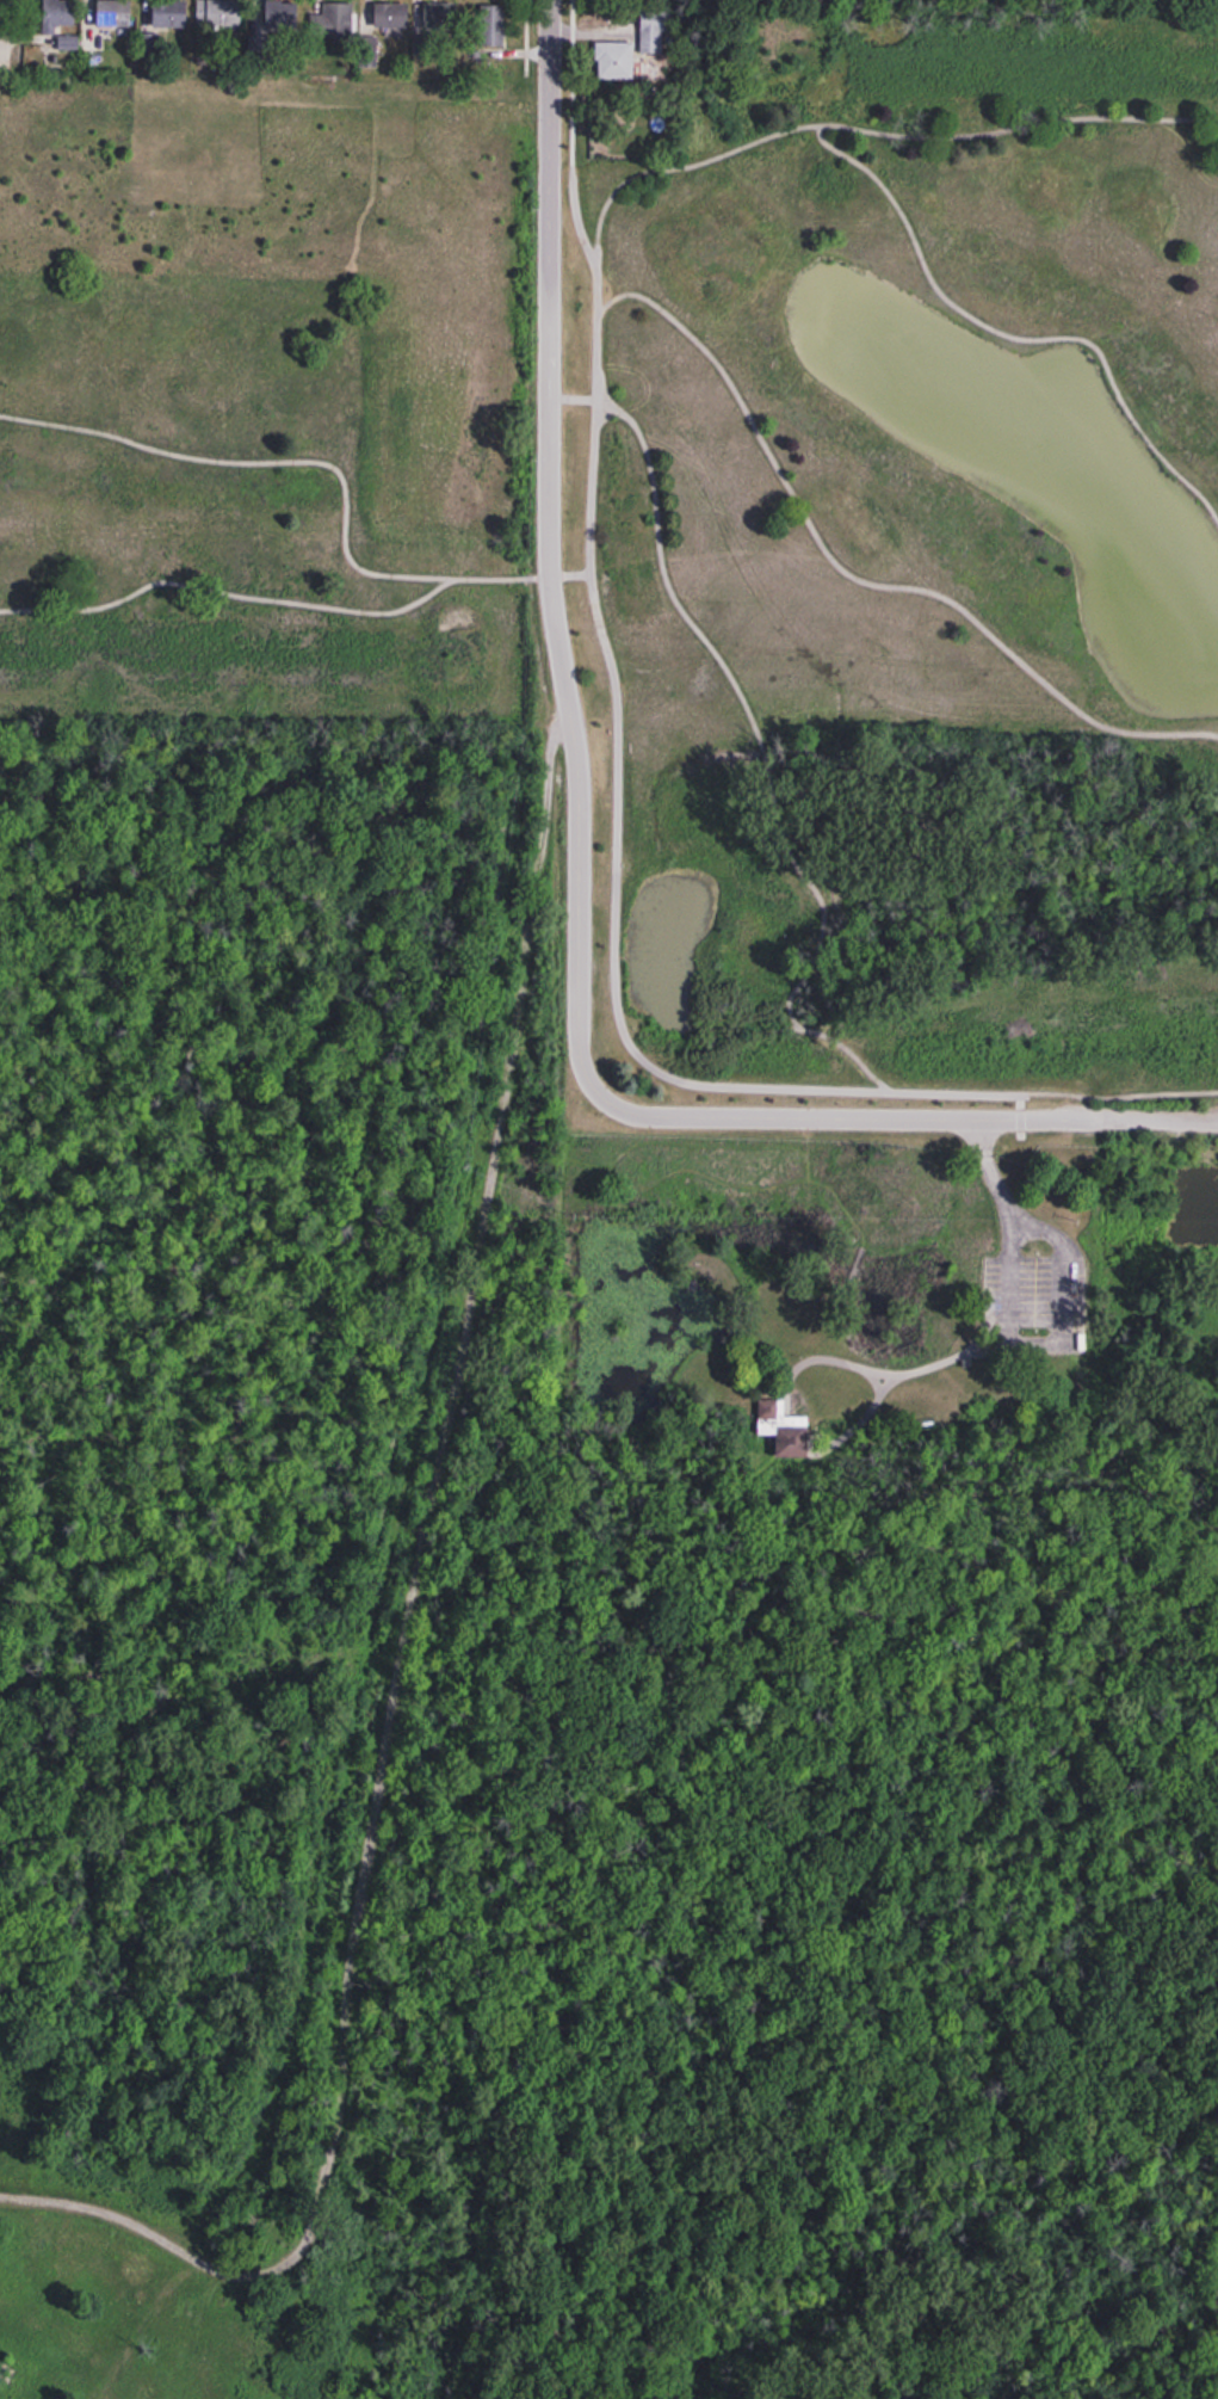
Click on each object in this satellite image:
building: (218, 13)
building: (282, 13)
building: (55, 14)
building: (169, 14)
building: (392, 14)
building: (440, 18)
building: (333, 20)
building: (107, 21)
building: (494, 24)
building: (655, 30)
road: (0, 37)
building: (616, 61)
road: (550, 78)
road: (779, 132)
road: (1009, 335)
road: (126, 439)
park: (699, 479)
road: (591, 506)
road: (546, 560)
road: (359, 567)
road: (857, 579)
road: (230, 594)
road: (741, 691)
road: (792, 1016)
road: (928, 1092)
road: (914, 1114)
road: (991, 1174)
road: (1037, 1226)
parking lot: (1030, 1303)
road: (1032, 1321)
road: (1039, 1345)
road: (870, 1373)
road: (876, 1381)
road: (864, 1416)
building: (778, 1423)
park: (569, 1641)
road: (377, 1686)
road: (175, 2327)

